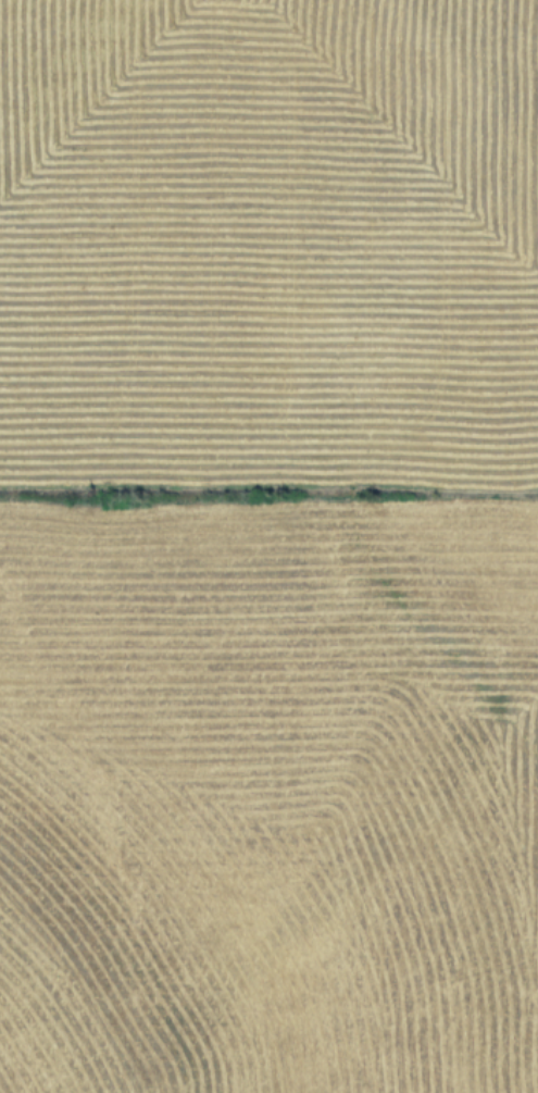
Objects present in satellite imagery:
crop: (268, 546)

